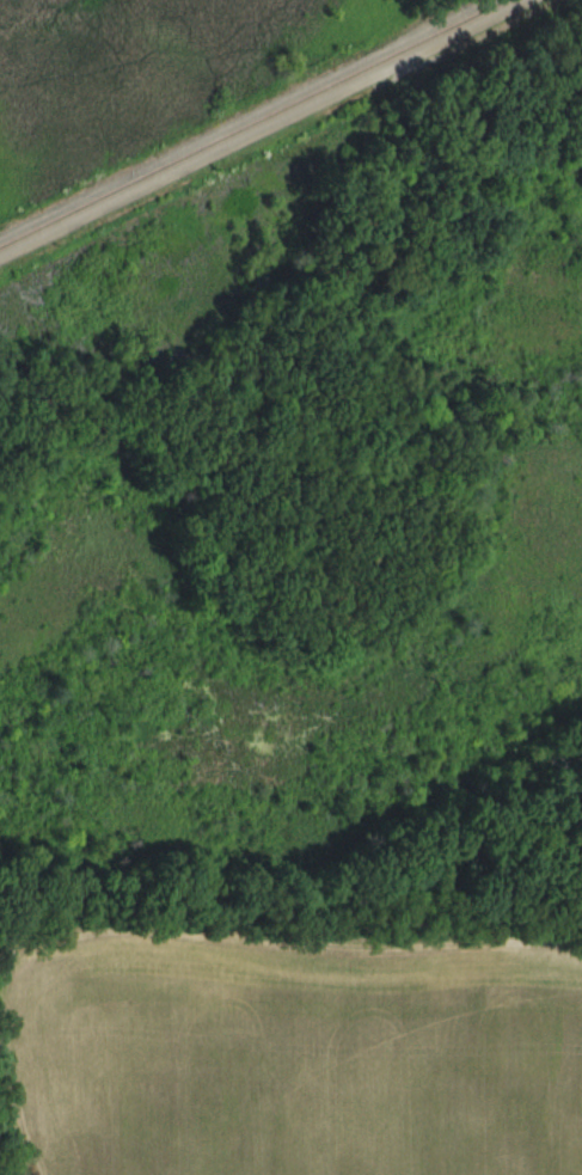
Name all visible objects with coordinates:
railway: (255, 124)

